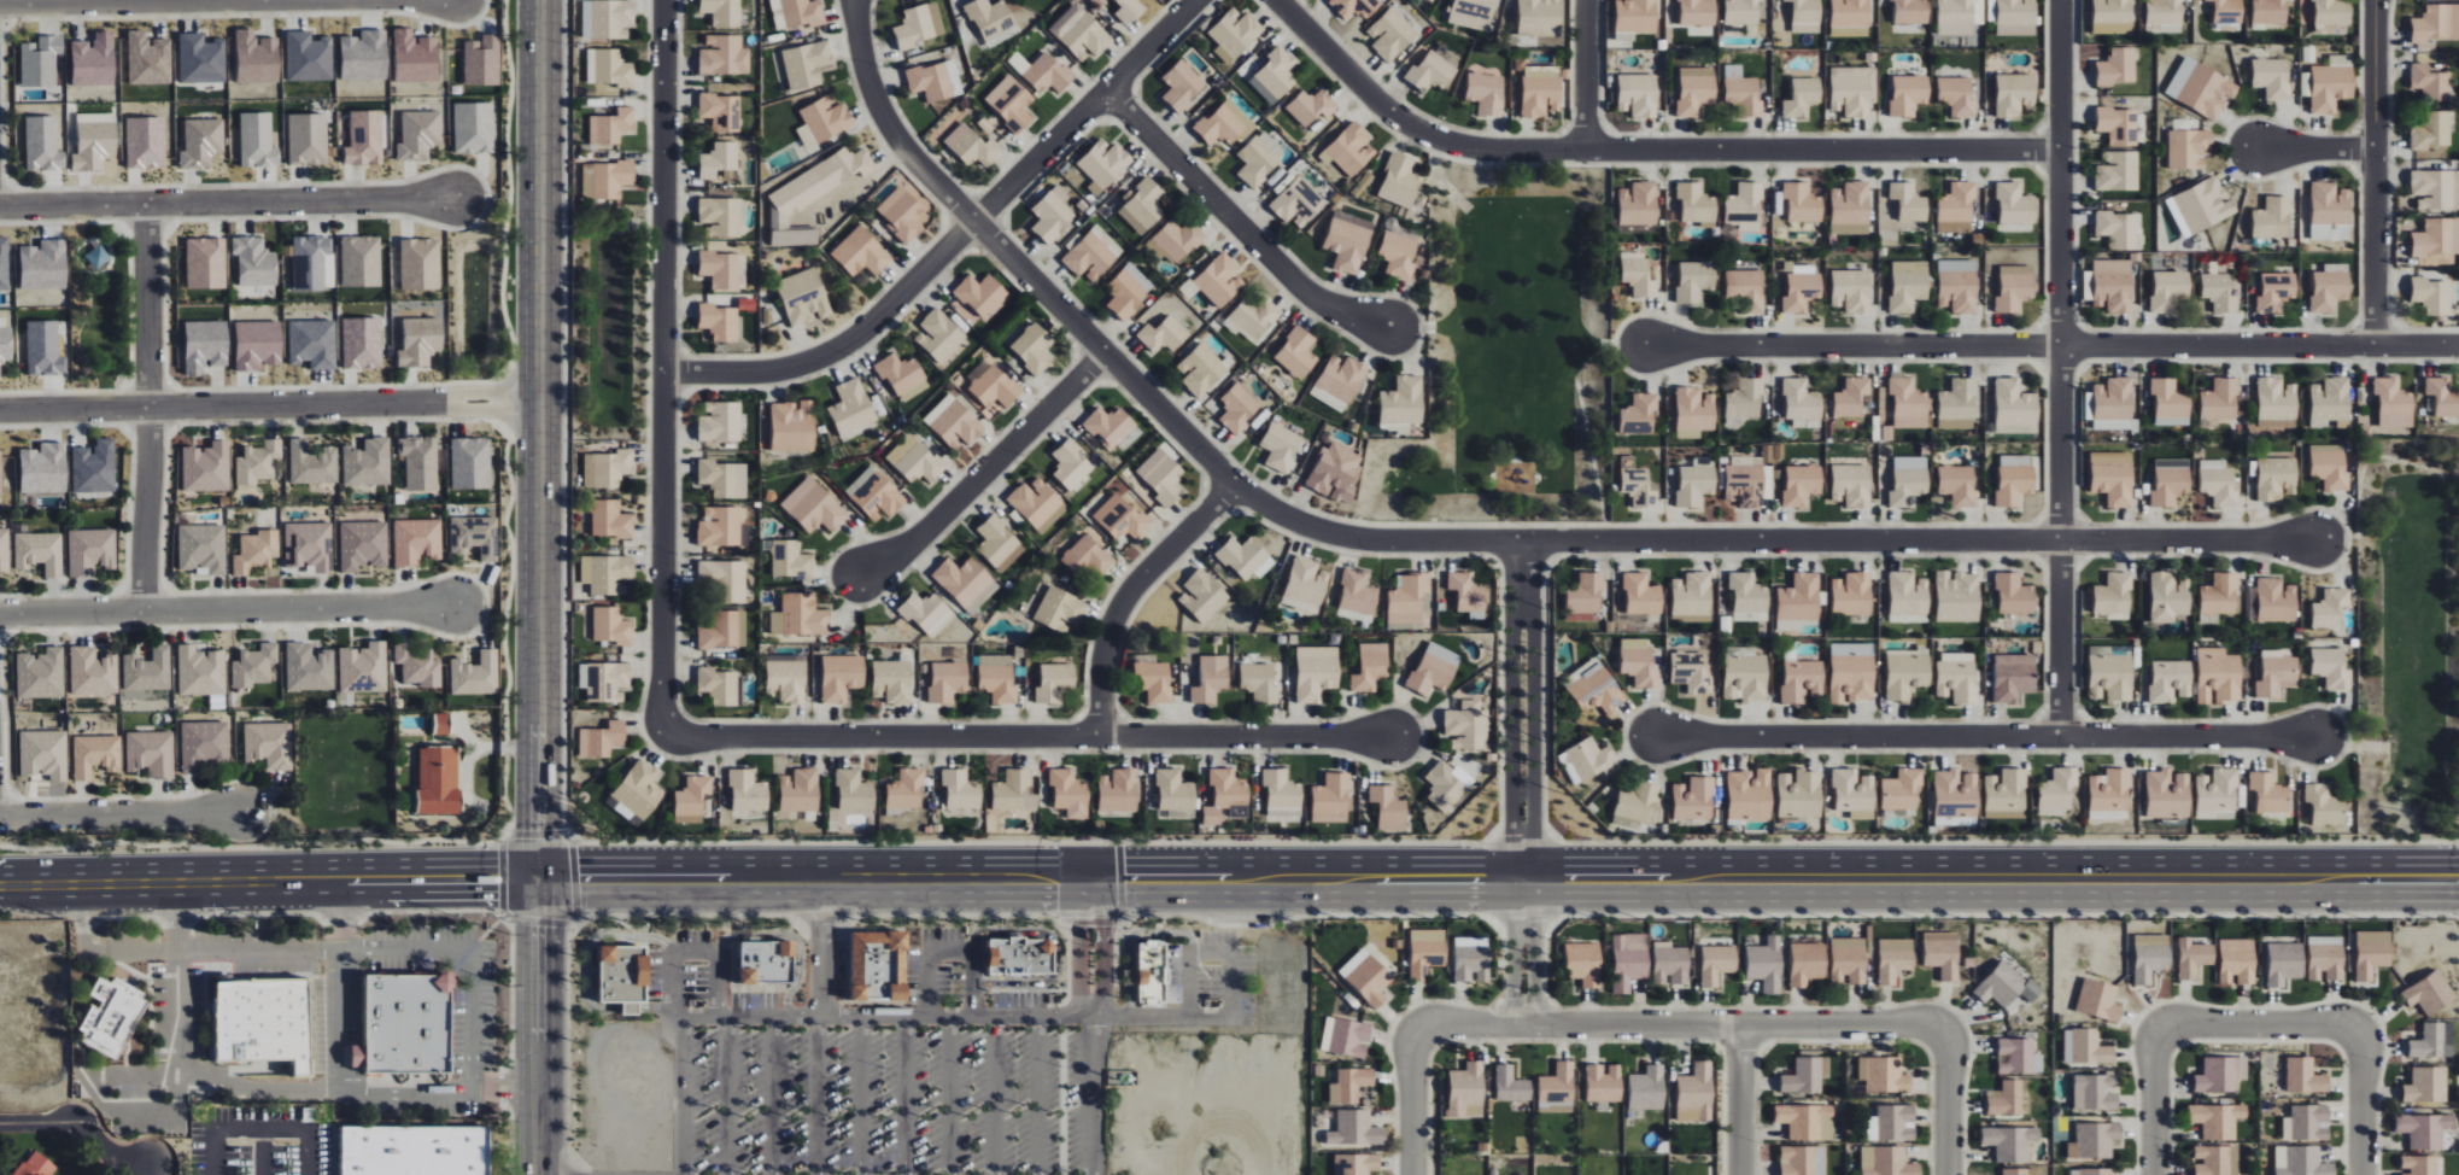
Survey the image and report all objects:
road: (62, 1)
building: (1100, 2)
building: (1354, 7)
building: (1128, 10)
building: (1911, 11)
building: (2227, 11)
building: (2271, 11)
building: (722, 12)
building: (1697, 12)
building: (1743, 12)
building: (1850, 12)
building: (2331, 12)
building: (797, 13)
building: (1473, 13)
building: (2165, 14)
building: (1635, 16)
building: (1805, 16)
building: (2112, 16)
building: (1539, 17)
building: (1959, 17)
building: (2016, 17)
building: (608, 18)
building: (991, 21)
building: (2437, 23)
building: (920, 24)
building: (1081, 31)
building: (1850, 31)
building: (1235, 34)
building: (1390, 34)
building: (364, 55)
building: (414, 55)
building: (724, 55)
building: (257, 57)
building: (308, 57)
building: (147, 58)
building: (200, 59)
building: (93, 60)
building: (481, 60)
building: (40, 62)
building: (806, 64)
building: (2118, 66)
building: (609, 68)
building: (1430, 72)
building: (1048, 74)
building: (1275, 75)
road: (1587, 75)
building: (2272, 77)
building: (931, 82)
building: (2430, 82)
building: (1182, 86)
building: (2202, 88)
building: (1696, 89)
building: (1743, 89)
building: (1852, 89)
building: (1486, 92)
building: (1539, 93)
building: (1908, 94)
building: (2015, 94)
building: (1638, 95)
building: (1956, 95)
building: (1803, 97)
building: (1011, 103)
building: (1311, 106)
building: (721, 111)
building: (822, 121)
building: (1225, 123)
building: (613, 125)
building: (2119, 125)
building: (473, 127)
building: (2432, 130)
building: (418, 135)
building: (308, 139)
building: (364, 139)
building: (257, 140)
building: (94, 141)
building: (145, 142)
building: (201, 142)
building: (42, 145)
building: (972, 146)
building: (2189, 148)
building: (1349, 150)
road: (2319, 150)
road: (1641, 151)
building: (719, 159)
building: (1259, 159)
building: (1103, 164)
building: (2118, 171)
road: (2377, 171)
building: (605, 179)
building: (1399, 181)
building: (2436, 189)
building: (813, 194)
road: (229, 200)
building: (1296, 201)
building: (1908, 201)
building: (1802, 203)
building: (1638, 204)
building: (1697, 204)
building: (1744, 204)
building: (2014, 204)
building: (2205, 205)
building: (1142, 206)
building: (1850, 209)
building: (1956, 209)
building: (904, 211)
building: (1052, 215)
building: (721, 216)
building: (2273, 218)
road: (1236, 226)
building: (2119, 229)
road: (953, 235)
building: (2437, 236)
building: (1176, 241)
building: (1347, 245)
building: (861, 253)
building: (1093, 253)
building: (1397, 255)
building: (98, 257)
building: (361, 261)
building: (256, 262)
building: (314, 262)
building: (206, 263)
building: (4, 264)
building: (420, 264)
building: (43, 265)
building: (721, 269)
building: (1637, 274)
building: (1219, 280)
building: (1694, 281)
building: (1908, 285)
building: (1957, 285)
building: (2114, 285)
building: (2015, 287)
building: (2330, 287)
building: (1802, 288)
building: (1746, 290)
building: (2170, 290)
building: (1128, 291)
building: (1851, 291)
building: (2223, 291)
building: (2276, 292)
building: (980, 294)
building: (2431, 296)
building: (803, 297)
building: (1253, 318)
building: (719, 322)
building: (1164, 334)
building: (939, 335)
building: (420, 341)
building: (6, 343)
building: (311, 343)
building: (362, 343)
road: (2050, 344)
building: (205, 345)
building: (257, 345)
building: (1032, 347)
building: (43, 349)
building: (1296, 352)
road: (664, 367)
road: (2061, 367)
building: (1201, 369)
building: (902, 375)
building: (1339, 381)
building: (991, 390)
building: (2442, 396)
building: (1851, 397)
building: (2219, 399)
building: (2274, 399)
building: (1744, 402)
building: (1802, 402)
building: (2170, 402)
building: (2330, 402)
building: (1908, 403)
building: (2015, 403)
building: (1401, 404)
building: (1957, 404)
road: (146, 405)
road: (270, 405)
building: (2114, 405)
building: (2393, 405)
building: (851, 408)
building: (1237, 408)
building: (1693, 411)
road: (541, 415)
building: (1639, 415)
building: (720, 422)
building: (954, 422)
building: (2276, 425)
building: (792, 426)
building: (1108, 426)
building: (1280, 446)
building: (257, 461)
building: (420, 462)
building: (918, 462)
building: (311, 463)
building: (367, 463)
building: (470, 463)
building: (1071, 464)
building: (2329, 466)
building: (93, 467)
building: (206, 467)
building: (608, 468)
building: (42, 469)
building: (1336, 470)
road: (984, 472)
building: (0, 474)
building: (724, 478)
building: (1747, 478)
building: (2274, 478)
building: (2015, 479)
building: (1165, 480)
building: (1696, 481)
building: (1908, 481)
building: (2113, 481)
building: (2170, 481)
building: (2218, 483)
building: (1637, 484)
building: (1802, 484)
building: (1852, 485)
building: (1959, 485)
building: (878, 497)
building: (1036, 502)
building: (813, 507)
building: (1120, 518)
building: (610, 519)
building: (720, 526)
building: (474, 536)
building: (416, 540)
road: (1451, 540)
building: (999, 543)
building: (309, 545)
building: (363, 545)
building: (203, 548)
building: (4, 550)
building: (90, 551)
building: (256, 551)
building: (39, 553)
building: (1087, 557)
building: (1246, 557)
building: (790, 560)
building: (607, 573)
building: (724, 579)
building: (966, 583)
building: (1306, 584)
building: (1468, 594)
building: (1586, 594)
building: (1852, 594)
road: (1131, 595)
building: (1202, 595)
building: (1641, 595)
building: (1692, 595)
building: (2014, 595)
building: (2220, 595)
building: (1357, 596)
building: (1957, 596)
building: (2114, 596)
building: (2170, 596)
building: (1407, 597)
building: (1749, 597)
building: (1908, 597)
building: (1799, 598)
building: (2276, 600)
road: (227, 607)
building: (1059, 609)
building: (2330, 609)
building: (926, 613)
building: (800, 615)
building: (611, 626)
building: (724, 631)
building: (1638, 662)
building: (253, 666)
building: (417, 666)
building: (2330, 666)
building: (309, 667)
building: (1370, 667)
building: (363, 668)
building: (1434, 668)
building: (200, 671)
building: (92, 672)
building: (1316, 672)
building: (1691, 672)
building: (1851, 672)
building: (1907, 672)
building: (40, 674)
building: (148, 674)
building: (474, 674)
building: (2277, 674)
building: (2219, 676)
building: (841, 677)
building: (997, 677)
building: (1746, 677)
building: (1957, 677)
building: (2015, 678)
building: (2110, 678)
building: (1211, 679)
building: (604, 680)
building: (786, 680)
building: (947, 680)
building: (1154, 680)
building: (1802, 680)
building: (2171, 680)
building: (891, 682)
building: (1054, 682)
building: (1259, 682)
building: (718, 686)
building: (1596, 690)
road: (1512, 709)
road: (1534, 709)
building: (441, 724)
building: (1466, 726)
road: (882, 735)
road: (1241, 735)
road: (1983, 736)
building: (602, 740)
building: (203, 744)
building: (268, 744)
building: (43, 753)
building: (151, 753)
building: (95, 755)
building: (1589, 759)
building: (438, 781)
building: (1444, 785)
building: (639, 789)
building: (961, 789)
building: (1902, 789)
building: (800, 790)
building: (854, 790)
building: (906, 790)
building: (1119, 790)
building: (1175, 790)
building: (2109, 790)
building: (748, 791)
building: (1014, 793)
building: (1070, 793)
building: (1281, 793)
building: (2056, 793)
building: (2268, 793)
building: (1799, 794)
building: (1854, 794)
building: (1955, 794)
building: (2006, 794)
building: (2167, 794)
building: (1750, 795)
building: (1226, 796)
building: (1331, 799)
building: (1693, 799)
building: (691, 800)
building: (1637, 805)
building: (2324, 805)
building: (1388, 808)
building: (1179, 813)
road: (118, 814)
traffic signals: (541, 831)
road: (540, 855)
road: (1986, 877)
traffic signals: (579, 879)
road: (1046, 879)
traffic signals: (1055, 879)
traffic signals: (1124, 879)
traffic signals: (498, 882)
road: (289, 884)
road: (538, 904)
traffic signals: (538, 926)
traffic signals: (1103, 926)
road: (792, 937)
road: (1131, 940)
road: (316, 948)
road: (824, 948)
road: (1079, 949)
road: (1103, 949)
road: (695, 952)
road: (950, 952)
building: (1425, 952)
road: (1514, 952)
road: (1535, 952)
road: (1056, 953)
road: (1212, 953)
building: (2372, 953)
building: (1942, 954)
building: (2150, 957)
building: (1018, 958)
building: (2192, 958)
building: (2326, 958)
building: (1471, 959)
building: (1893, 959)
building: (1628, 960)
building: (1849, 960)
building: (2237, 961)
building: (1807, 963)
building: (2284, 963)
building: (750, 964)
building: (778, 964)
building: (1583, 964)
building: (1717, 964)
building: (1766, 964)
building: (1670, 965)
building: (876, 969)
road: (585, 971)
parking lot: (1214, 972)
building: (1148, 974)
building: (620, 976)
building: (1368, 977)
road: (672, 984)
road: (718, 984)
road: (927, 984)
road: (973, 984)
road: (1190, 984)
road: (1234, 984)
road: (341, 986)
building: (2007, 986)
building: (2430, 993)
building: (2100, 1000)
building: (111, 1016)
road: (882, 1017)
road: (1163, 1017)
building: (263, 1022)
building: (406, 1024)
road: (1681, 1025)
road: (2256, 1025)
building: (1346, 1037)
building: (2434, 1041)
building: (2086, 1047)
road: (538, 1051)
building: (2019, 1057)
road: (153, 1071)
building: (1884, 1075)
building: (2221, 1075)
building: (1805, 1076)
building: (2305, 1076)
parking lot: (878, 1077)
building: (1604, 1082)
building: (1511, 1085)
building: (1349, 1086)
building: (2426, 1086)
building: (1558, 1087)
building: (1647, 1088)
building: (1697, 1089)
building: (1466, 1092)
building: (2095, 1092)
road: (684, 1095)
road: (730, 1095)
road: (773, 1095)
road: (819, 1095)
road: (862, 1095)
road: (907, 1095)
road: (952, 1095)
road: (995, 1095)
road: (1040, 1095)
road: (1091, 1095)
building: (2007, 1099)
road: (1741, 1100)
road: (2361, 1100)
road: (1413, 1101)
road: (1949, 1101)
road: (2155, 1101)
building: (2218, 1121)
building: (1808, 1122)
building: (1891, 1123)
building: (2307, 1123)
road: (81, 1126)
road: (260, 1127)
building: (1356, 1129)
building: (2425, 1130)
building: (2095, 1140)
building: (2010, 1142)
road: (212, 1151)
road: (262, 1151)
road: (306, 1151)
building: (415, 1151)
building: (1803, 1161)
building: (2217, 1161)
building: (1887, 1162)
building: (2301, 1162)
building: (1356, 1164)
building: (35, 1165)
building: (2419, 1165)
building: (2020, 1171)
building: (2096, 1171)

